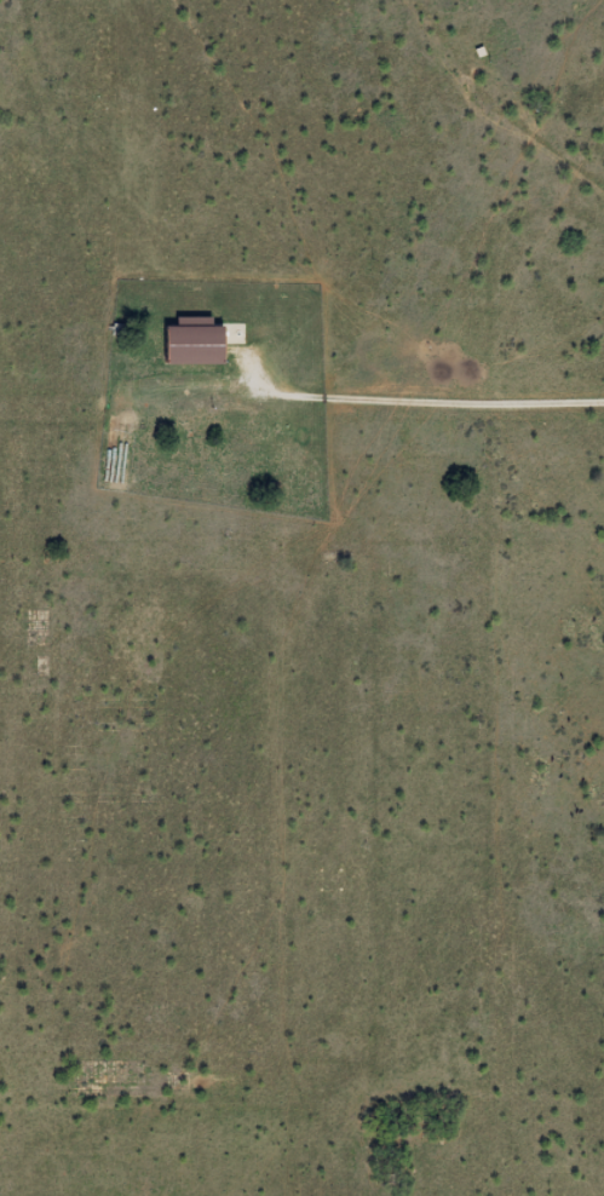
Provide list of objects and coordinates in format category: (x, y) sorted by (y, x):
building: (189, 343)

